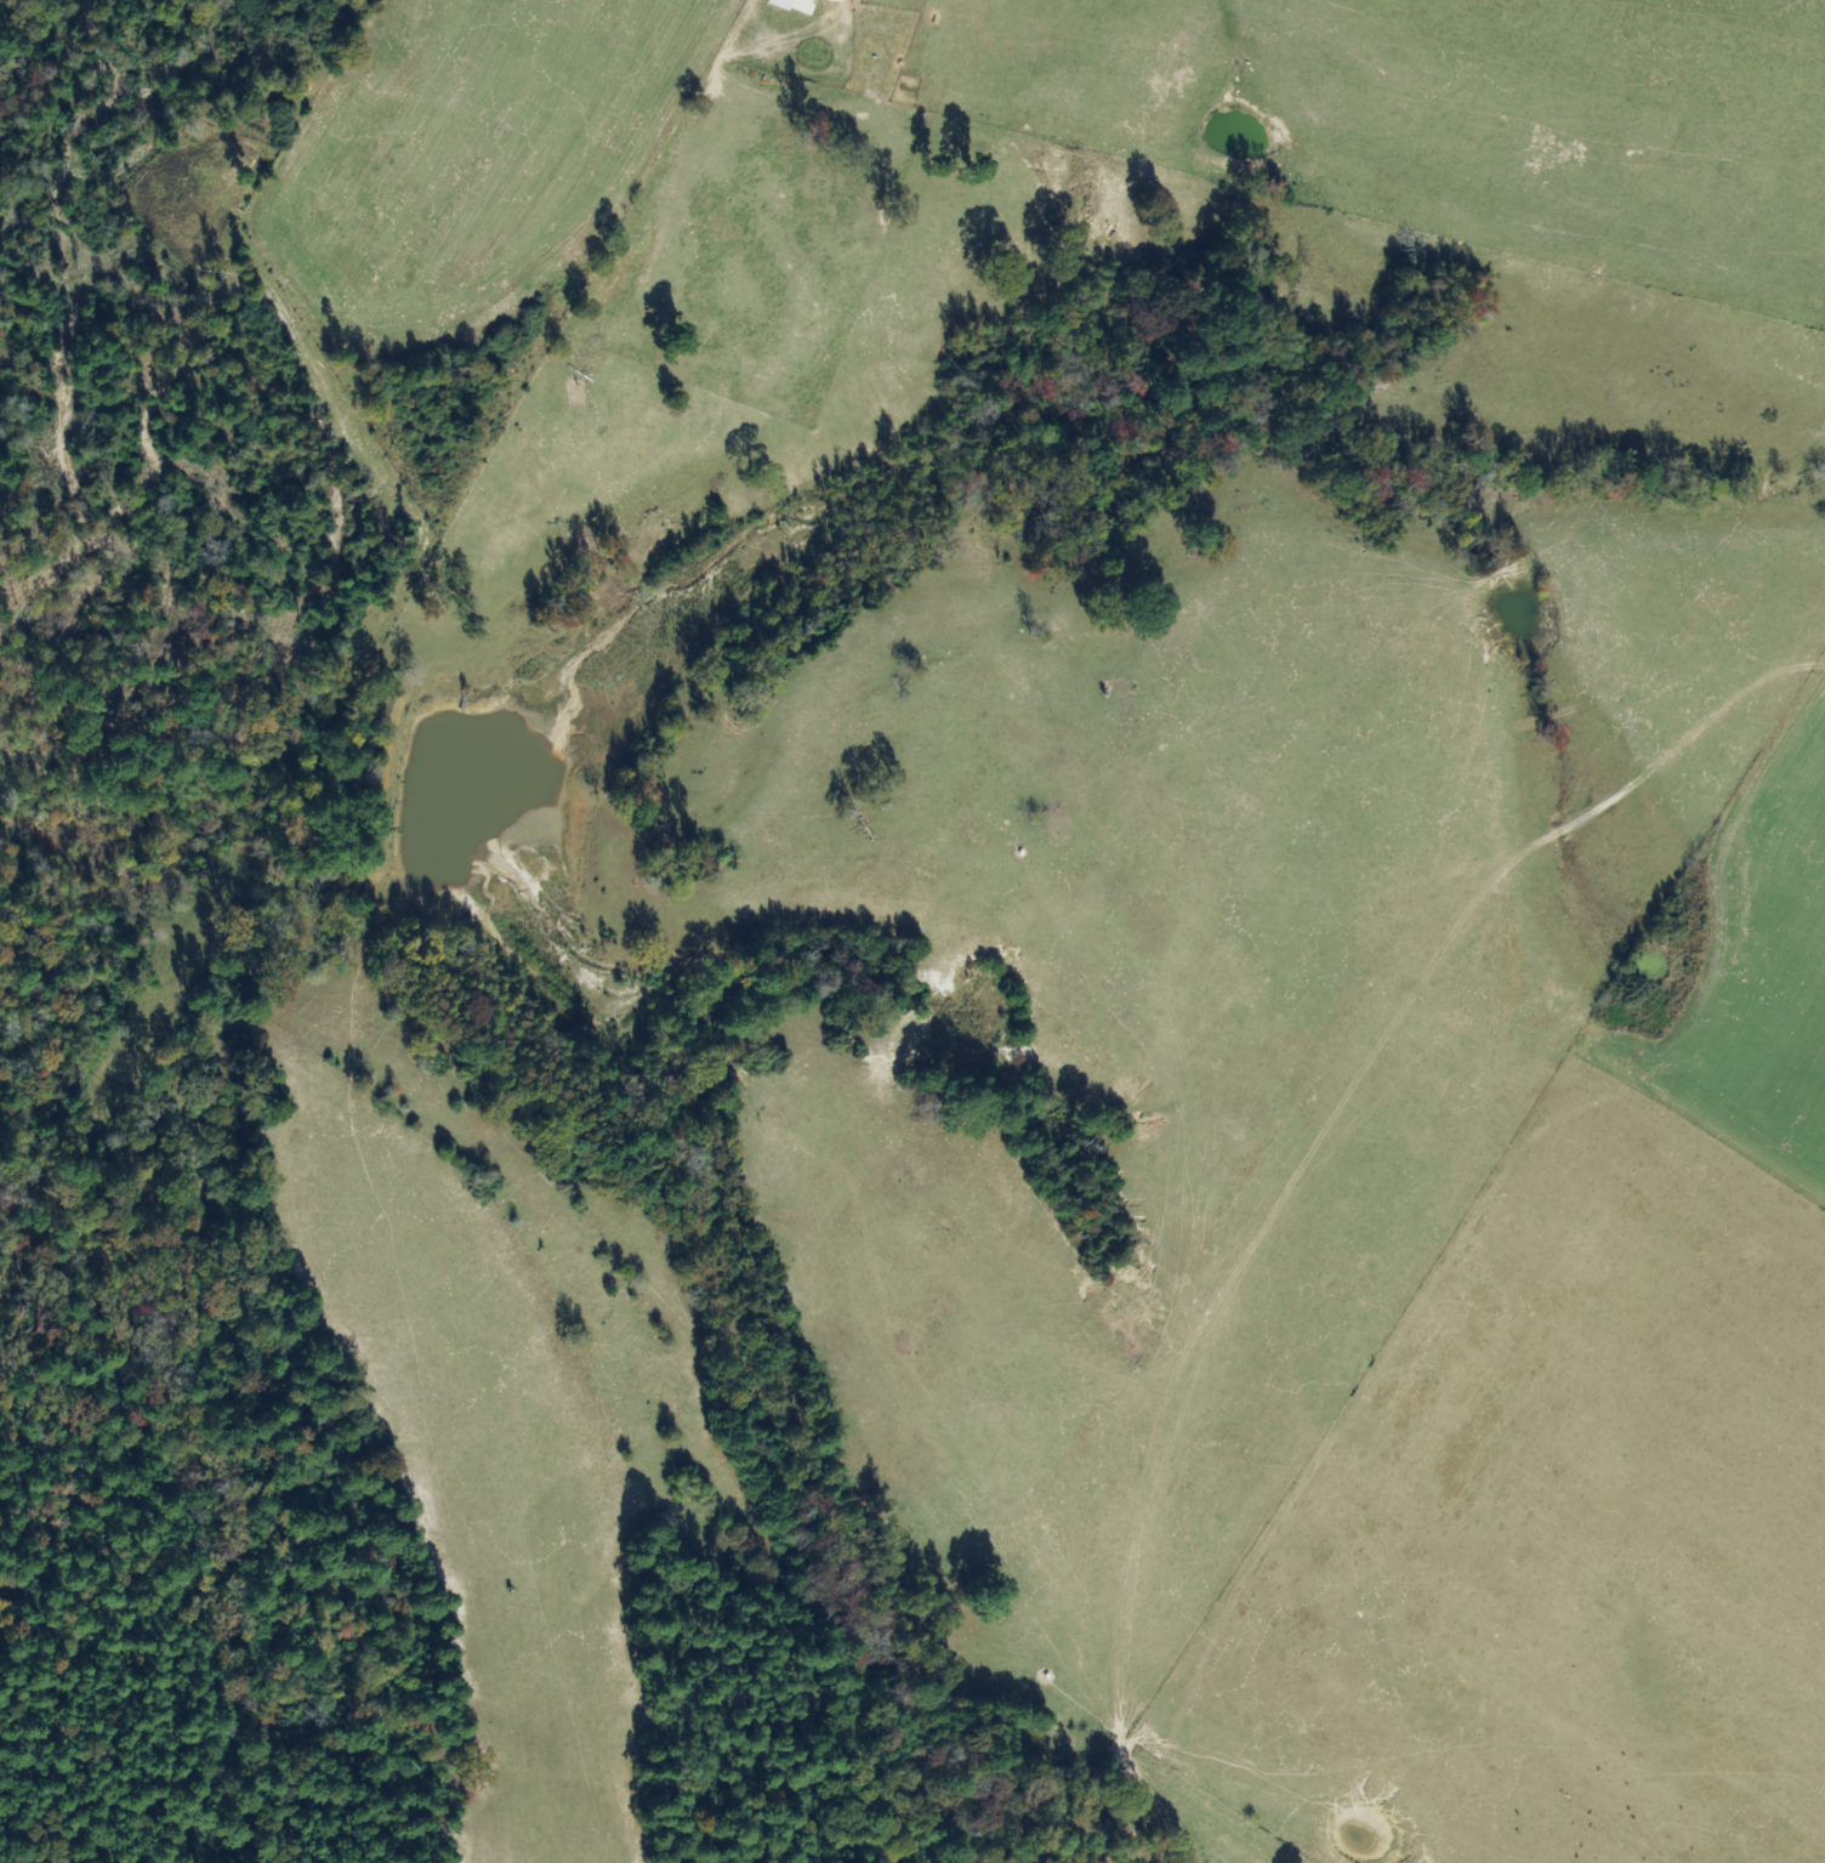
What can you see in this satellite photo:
building: (794, 6)
road: (1229, 1240)

